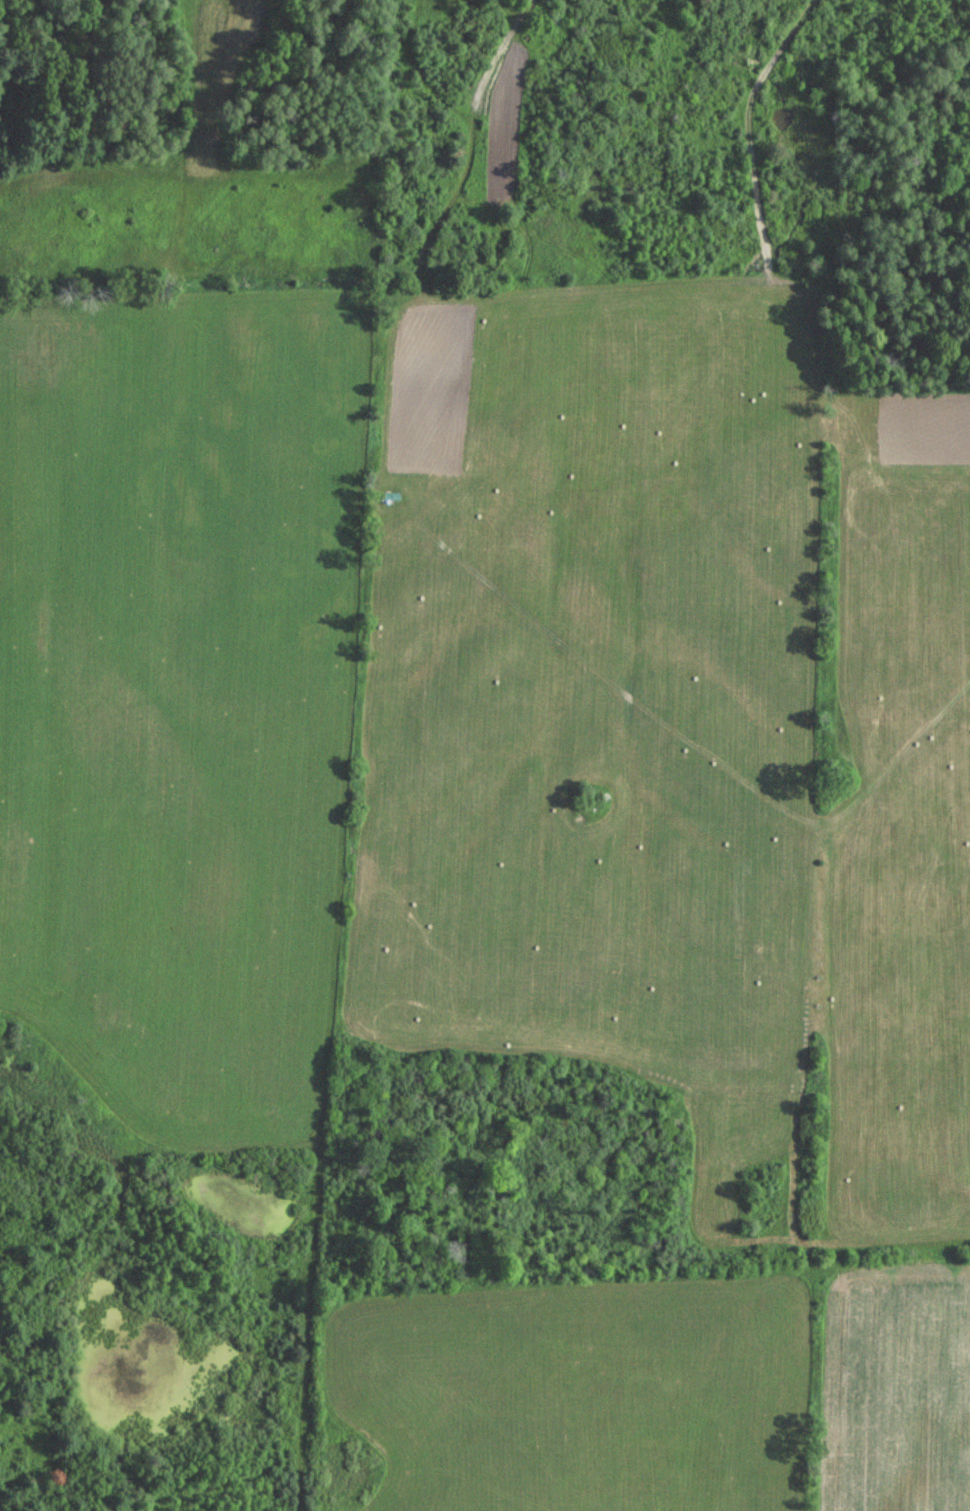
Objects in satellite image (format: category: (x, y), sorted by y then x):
building: (818, 837)

